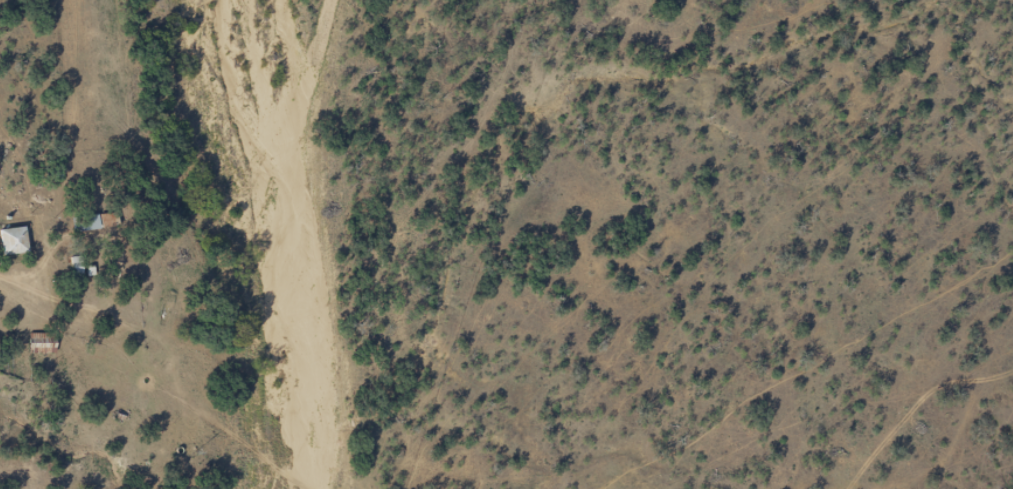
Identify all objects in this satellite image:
building: (94, 222)
building: (12, 241)
building: (41, 343)

